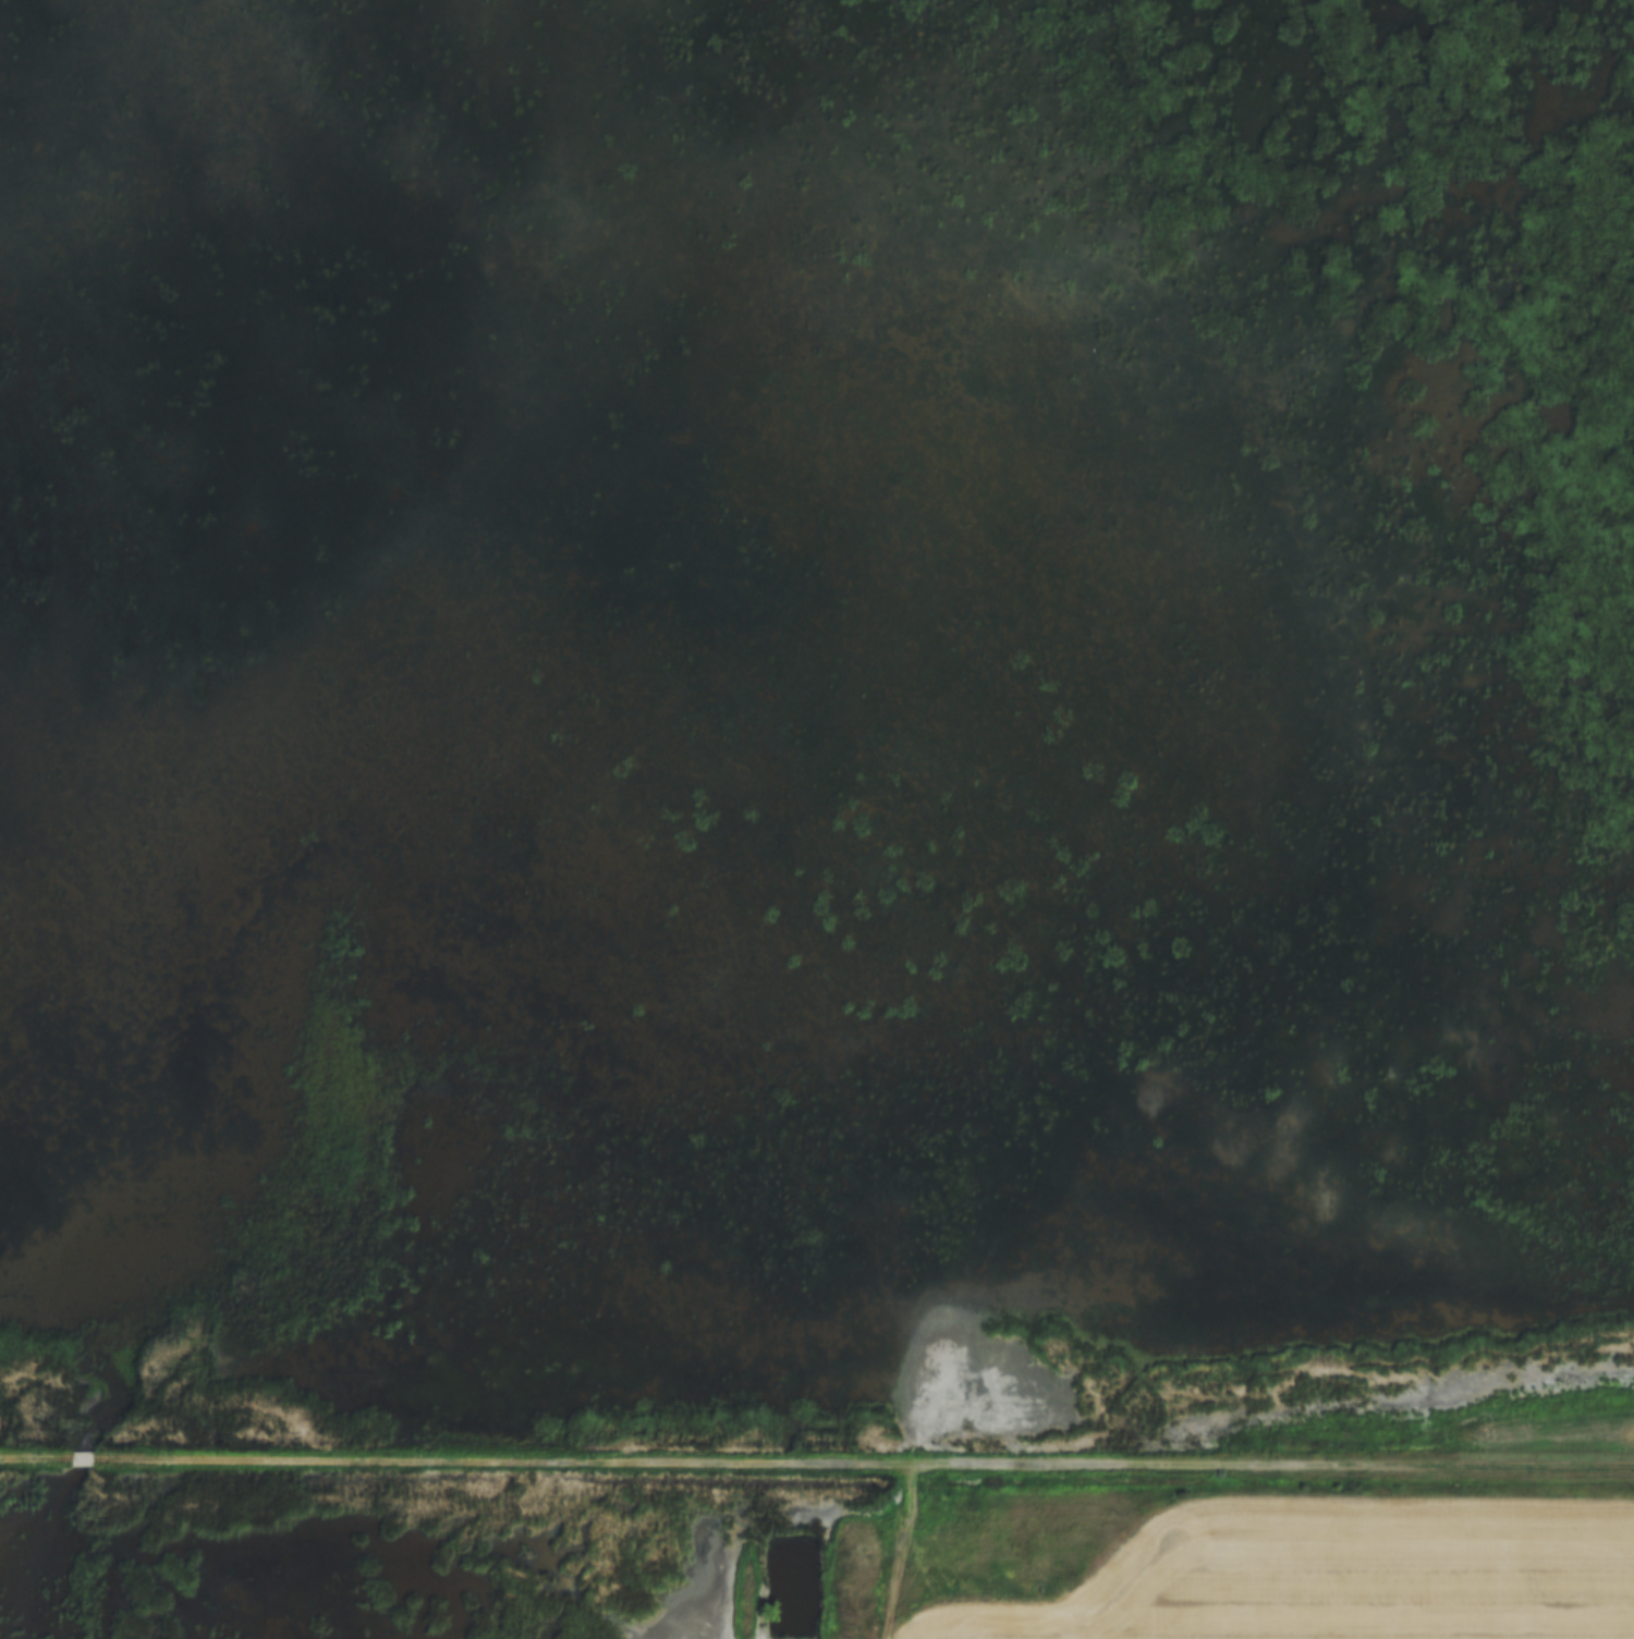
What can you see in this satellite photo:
road: (816, 1458)
building: (84, 1460)
road: (903, 1549)

